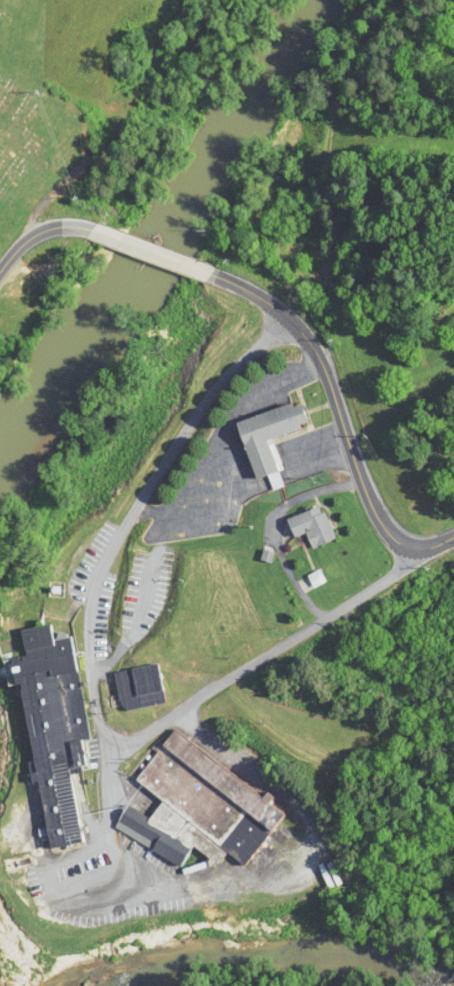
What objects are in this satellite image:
river: (256, 78)
road: (36, 236)
road: (150, 253)
river: (90, 314)
road: (339, 421)
building: (266, 435)
road: (223, 436)
road: (210, 495)
road: (227, 513)
building: (308, 527)
road: (274, 528)
road: (131, 624)
dam: (2, 653)
road: (89, 675)
building: (138, 687)
building: (52, 729)
road: (109, 745)
road: (107, 793)
building: (198, 808)
road: (294, 872)
river: (262, 945)

